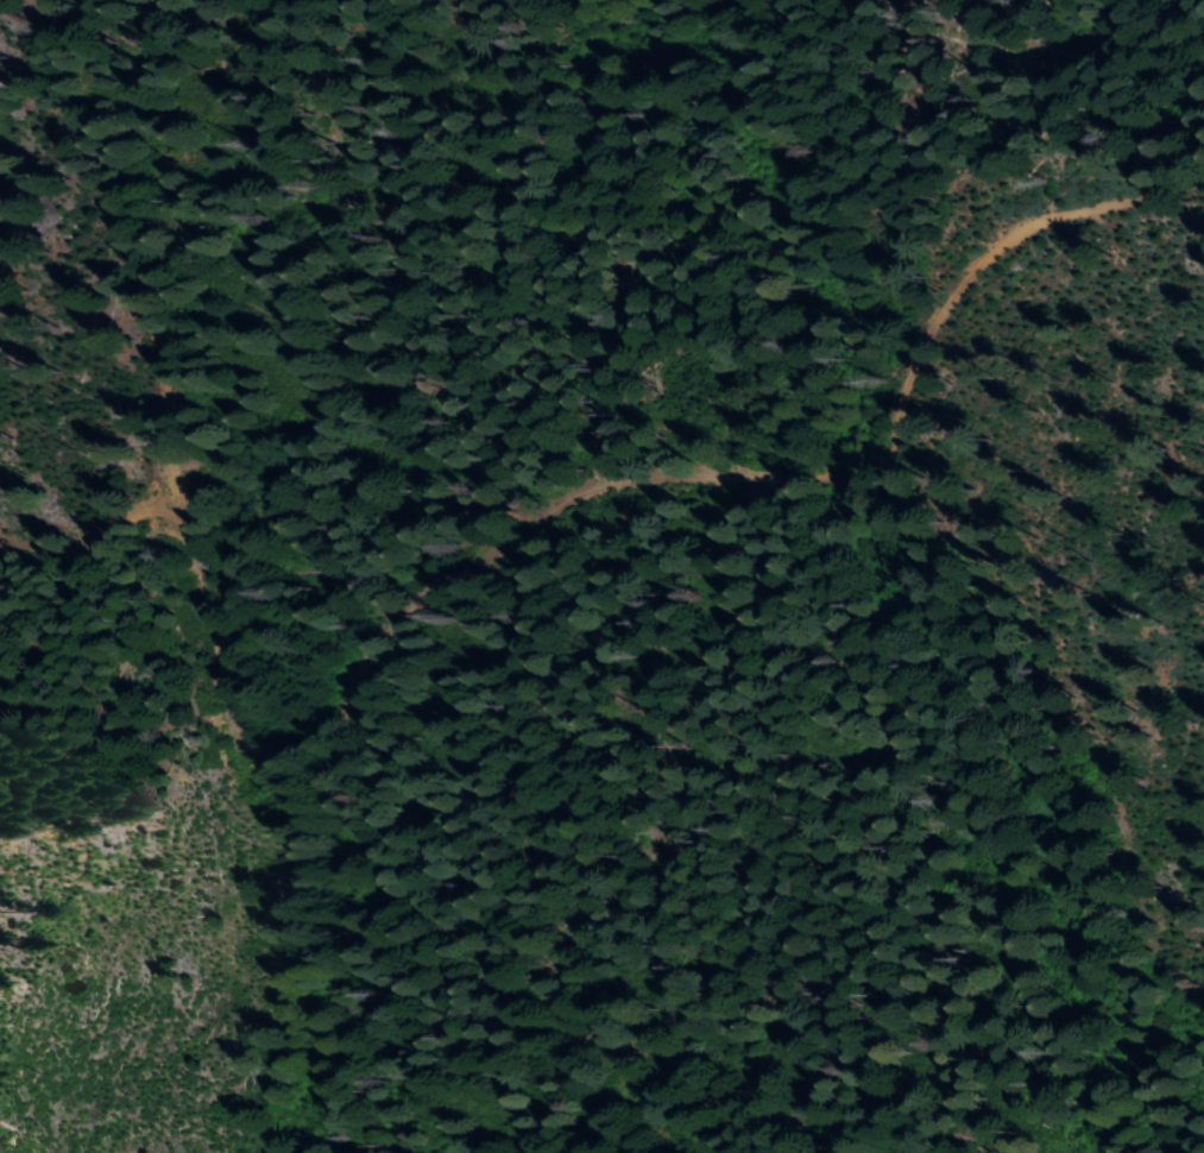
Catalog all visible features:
road: (499, 534)

